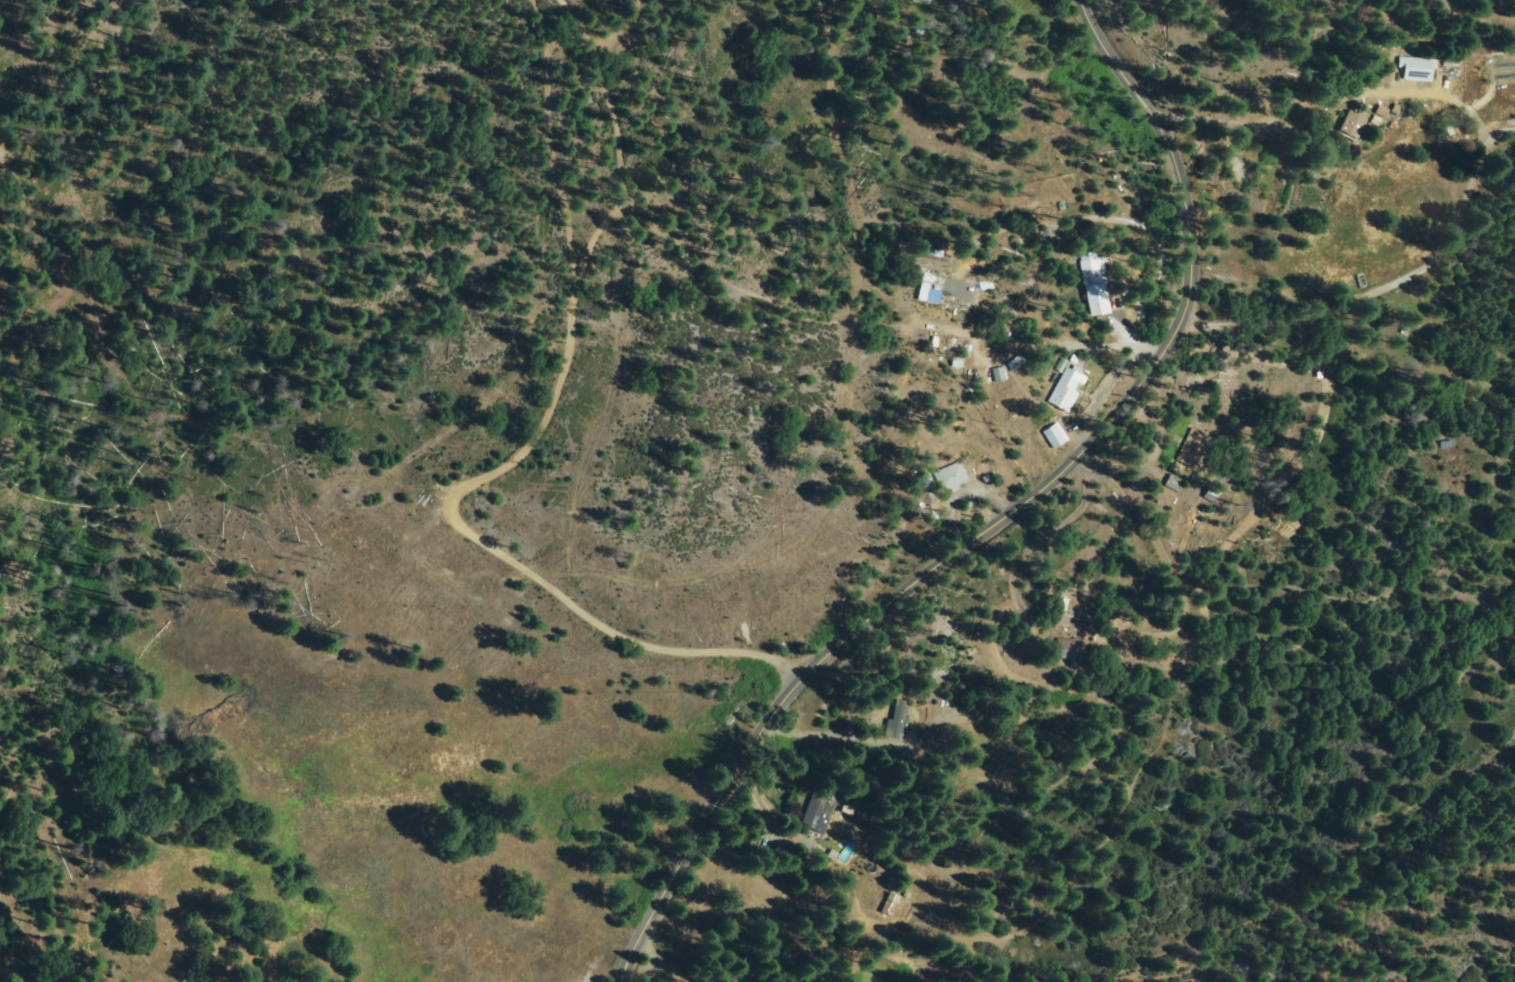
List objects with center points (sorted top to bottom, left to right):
building: (927, 1)
building: (919, 2)
building: (1451, 61)
building: (1414, 71)
building: (1387, 79)
road: (1278, 103)
building: (1396, 109)
building: (1382, 111)
building: (1376, 120)
building: (1354, 125)
building: (5, 160)
building: (974, 279)
building: (1360, 280)
building: (1094, 284)
building: (921, 291)
building: (955, 362)
building: (1060, 364)
building: (983, 374)
building: (1065, 389)
road: (548, 408)
building: (1054, 436)
building: (1191, 449)
building: (950, 476)
building: (925, 478)
building: (1175, 484)
road: (1006, 510)
building: (1061, 604)
building: (1070, 649)
building: (958, 702)
building: (898, 719)
building: (848, 808)
building: (818, 812)
building: (907, 894)
building: (891, 903)

